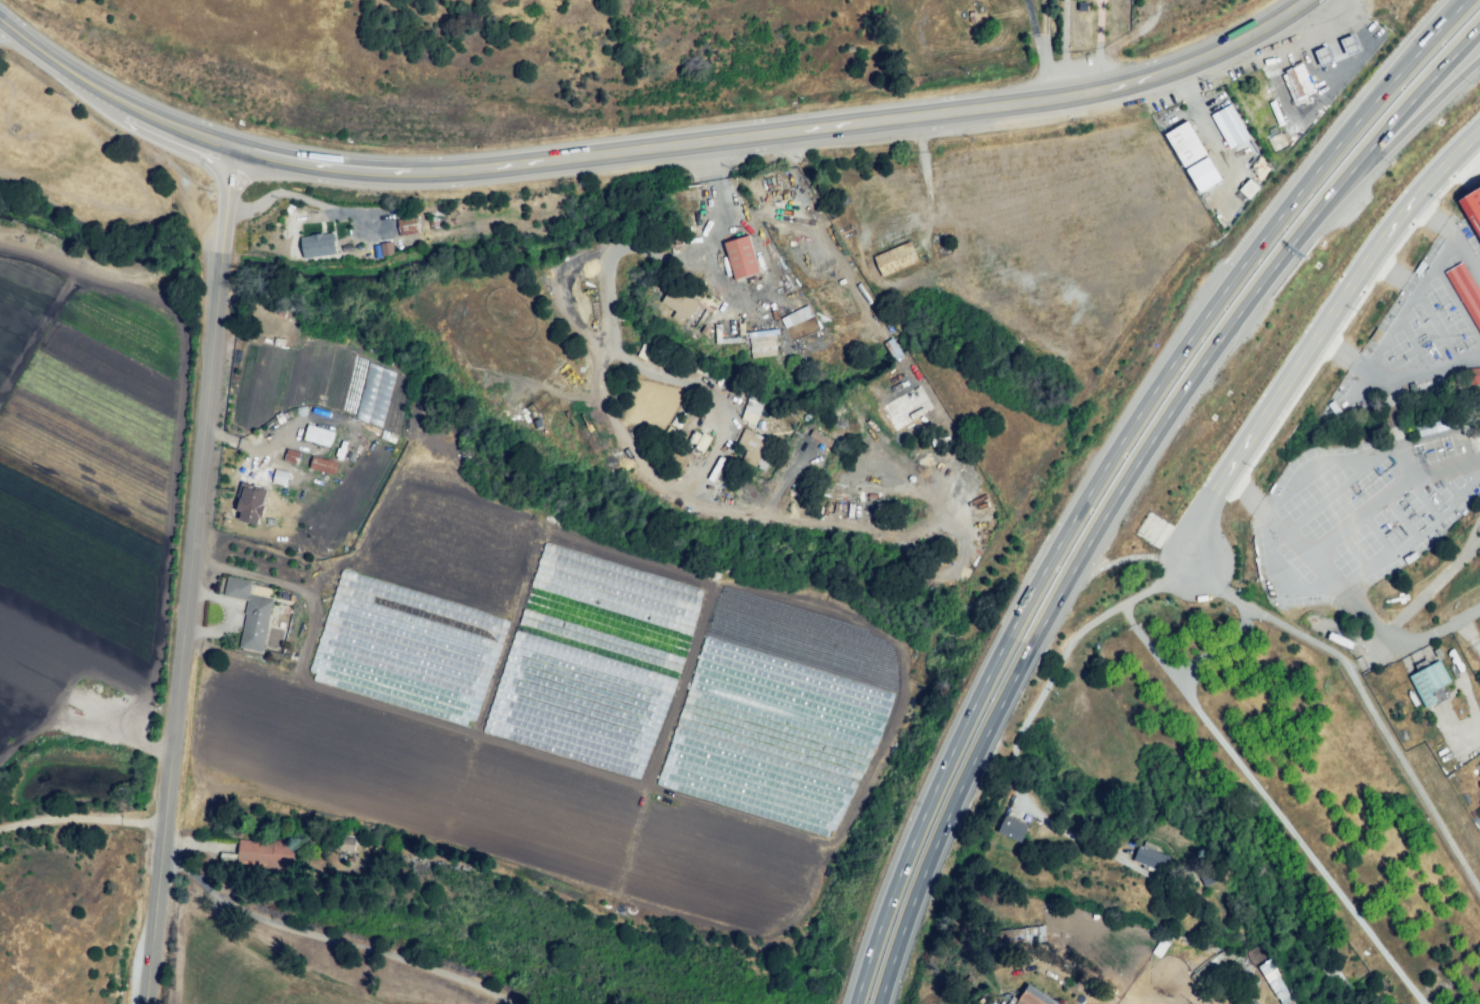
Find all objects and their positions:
building: (1199, 13)
building: (1123, 15)
road: (1033, 33)
building: (1349, 43)
road: (1045, 51)
building: (981, 57)
road: (1464, 58)
building: (1299, 84)
gas station: (1299, 84)
building: (1228, 125)
building: (1184, 146)
road: (649, 152)
building: (1247, 188)
building: (1474, 202)
building: (692, 219)
building: (408, 224)
building: (793, 232)
building: (316, 245)
building: (387, 249)
building: (741, 255)
building: (895, 258)
building: (1466, 292)
building: (682, 303)
building: (843, 308)
building: (795, 316)
road: (1314, 335)
building: (762, 343)
building: (778, 348)
building: (1473, 375)
building: (888, 389)
building: (909, 409)
building: (750, 410)
building: (317, 435)
building: (757, 448)
building: (290, 457)
building: (323, 466)
road: (1108, 466)
building: (279, 477)
road: (1125, 486)
crop: (85, 490)
building: (253, 506)
road: (1127, 553)
road: (191, 575)
building: (234, 588)
building: (254, 626)
crop: (587, 646)
building: (1429, 681)
road: (1361, 692)
building: (1055, 716)
wastewater plant: (83, 784)
road: (82, 819)
building: (1014, 829)
building: (345, 843)
road: (188, 844)
building: (264, 852)
building: (1146, 858)
building: (329, 866)
building: (1227, 894)
building: (1021, 935)
road: (333, 937)
building: (1274, 983)
building: (1028, 999)

